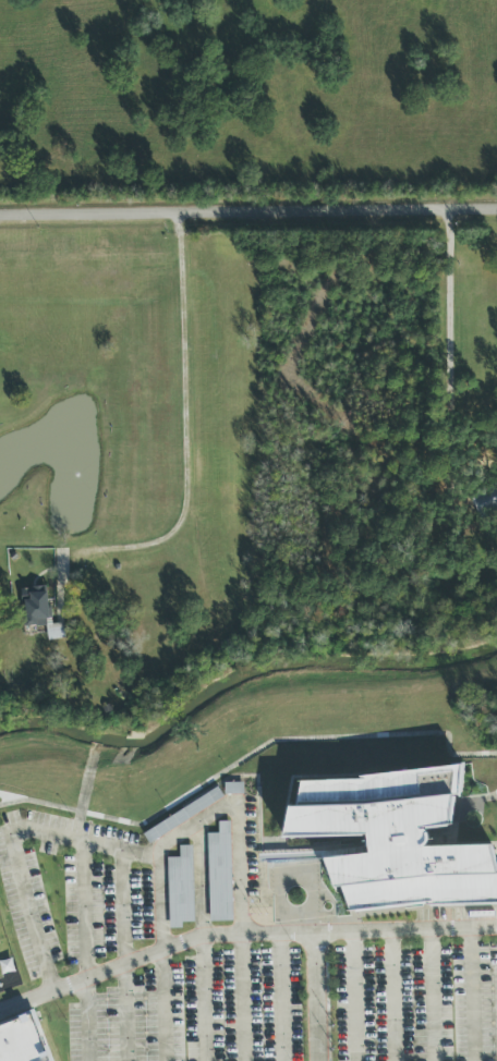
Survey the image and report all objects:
road: (247, 211)
road: (449, 349)
road: (184, 420)
building: (485, 500)
building: (38, 611)
river: (238, 676)
road: (248, 756)
road: (11, 840)
building: (395, 841)
building: (220, 875)
road: (239, 886)
building: (181, 889)
road: (241, 934)
road: (202, 942)
road: (85, 952)
road: (161, 955)
road: (123, 956)
road: (432, 995)
road: (471, 995)
road: (356, 996)
road: (392, 996)
road: (281, 997)
road: (316, 997)
building: (21, 1041)

